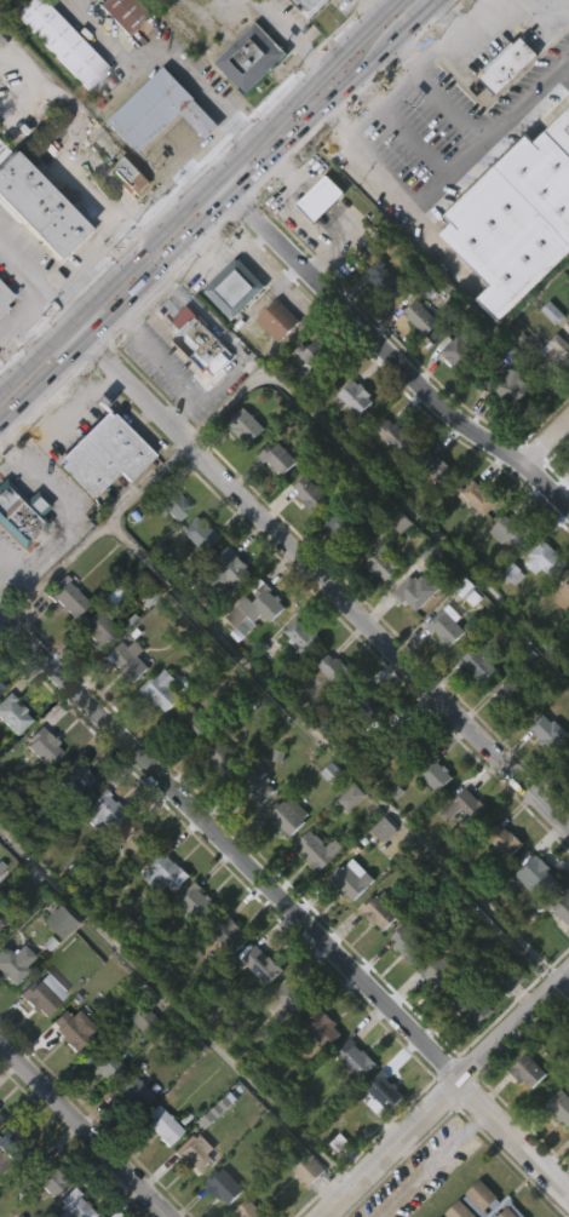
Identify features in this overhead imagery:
building: (311, 6)
road: (521, 7)
building: (123, 13)
road: (476, 16)
building: (300, 28)
road: (303, 30)
building: (515, 31)
road: (450, 40)
building: (64, 41)
building: (117, 53)
road: (163, 59)
building: (249, 59)
building: (512, 63)
building: (57, 86)
building: (246, 102)
building: (504, 109)
building: (159, 111)
road: (476, 139)
building: (128, 178)
road: (199, 193)
road: (401, 195)
building: (39, 206)
road: (219, 209)
building: (125, 219)
building: (516, 222)
building: (315, 242)
building: (35, 252)
building: (383, 276)
road: (31, 287)
building: (232, 287)
building: (2, 295)
building: (421, 315)
building: (277, 318)
building: (375, 318)
road: (6, 321)
building: (568, 321)
building: (568, 327)
road: (223, 331)
building: (229, 331)
building: (199, 339)
building: (2, 340)
building: (456, 350)
road: (384, 351)
building: (554, 354)
building: (316, 355)
building: (415, 360)
building: (272, 363)
road: (173, 368)
building: (567, 373)
road: (109, 381)
building: (195, 385)
building: (512, 385)
building: (452, 395)
building: (356, 396)
building: (545, 396)
building: (308, 397)
road: (76, 404)
road: (143, 415)
building: (248, 425)
building: (507, 429)
road: (143, 435)
building: (398, 435)
building: (350, 440)
road: (547, 442)
building: (102, 452)
building: (280, 459)
building: (240, 469)
building: (442, 470)
building: (390, 478)
building: (314, 494)
building: (482, 494)
building: (97, 496)
building: (568, 499)
building: (168, 503)
building: (275, 504)
road: (68, 507)
building: (436, 512)
building: (21, 513)
building: (343, 526)
road: (96, 528)
building: (511, 530)
building: (201, 532)
building: (305, 536)
building: (473, 541)
building: (168, 547)
building: (18, 557)
road: (5, 558)
building: (545, 559)
building: (381, 562)
building: (333, 567)
road: (5, 569)
building: (229, 569)
road: (320, 569)
building: (502, 575)
building: (196, 576)
building: (121, 585)
building: (416, 591)
building: (567, 591)
building: (67, 593)
building: (540, 602)
building: (378, 607)
building: (253, 609)
building: (224, 614)
road: (2, 621)
building: (98, 628)
building: (410, 635)
building: (301, 636)
building: (62, 639)
building: (561, 639)
building: (251, 654)
building: (130, 660)
building: (478, 664)
building: (442, 668)
building: (335, 670)
building: (93, 672)
building: (297, 679)
building: (0, 687)
building: (162, 689)
building: (513, 696)
building: (125, 702)
building: (366, 702)
building: (473, 706)
building: (328, 712)
building: (12, 713)
building: (192, 722)
building: (551, 731)
building: (156, 733)
building: (504, 735)
building: (404, 739)
building: (46, 742)
road: (328, 752)
building: (223, 756)
building: (10, 759)
building: (185, 764)
building: (567, 765)
building: (438, 773)
building: (541, 774)
building: (74, 779)
building: (254, 783)
building: (38, 788)
building: (215, 798)
building: (470, 806)
building: (567, 806)
building: (100, 809)
building: (288, 815)
building: (329, 817)
building: (430, 817)
building: (71, 820)
building: (249, 826)
building: (134, 839)
building: (346, 840)
building: (502, 840)
building: (318, 850)
building: (460, 850)
building: (96, 854)
building: (283, 857)
building: (165, 872)
building: (379, 872)
building: (535, 877)
building: (350, 879)
building: (130, 883)
building: (498, 883)
building: (314, 892)
building: (196, 902)
road: (284, 902)
building: (561, 905)
building: (379, 911)
building: (161, 917)
building: (531, 919)
building: (63, 922)
building: (345, 922)
building: (226, 935)
building: (415, 941)
building: (189, 948)
building: (559, 951)
building: (375, 954)
building: (15, 961)
building: (58, 964)
building: (260, 964)
building: (446, 971)
building: (225, 978)
building: (510, 978)
road: (564, 983)
building: (403, 987)
building: (42, 992)
building: (289, 998)
road: (177, 1004)
building: (11, 1005)
building: (472, 1006)
building: (257, 1008)
building: (436, 1015)
building: (148, 1022)
building: (505, 1023)
building: (326, 1027)
building: (67, 1029)
building: (39, 1035)
building: (283, 1041)
building: (466, 1049)
building: (102, 1055)
building: (360, 1060)
building: (140, 1062)
building: (317, 1070)
building: (528, 1070)
building: (63, 1072)
building: (132, 1091)
building: (385, 1091)
road: (446, 1092)
building: (350, 1101)
building: (561, 1103)
building: (94, 1104)
building: (523, 1114)
building: (0, 1119)
building: (161, 1124)
road: (86, 1129)
building: (379, 1133)
building: (126, 1135)
building: (13, 1147)
building: (557, 1150)
building: (191, 1155)
road: (433, 1161)
building: (155, 1166)
building: (309, 1170)
building: (568, 1175)
building: (45, 1176)
building: (223, 1186)
building: (10, 1187)
building: (191, 1194)
building: (77, 1206)
building: (255, 1210)
building: (303, 1210)
building: (506, 1210)
building: (459, 1211)
building: (40, 1212)
building: (113, 1213)
building: (215, 1213)

